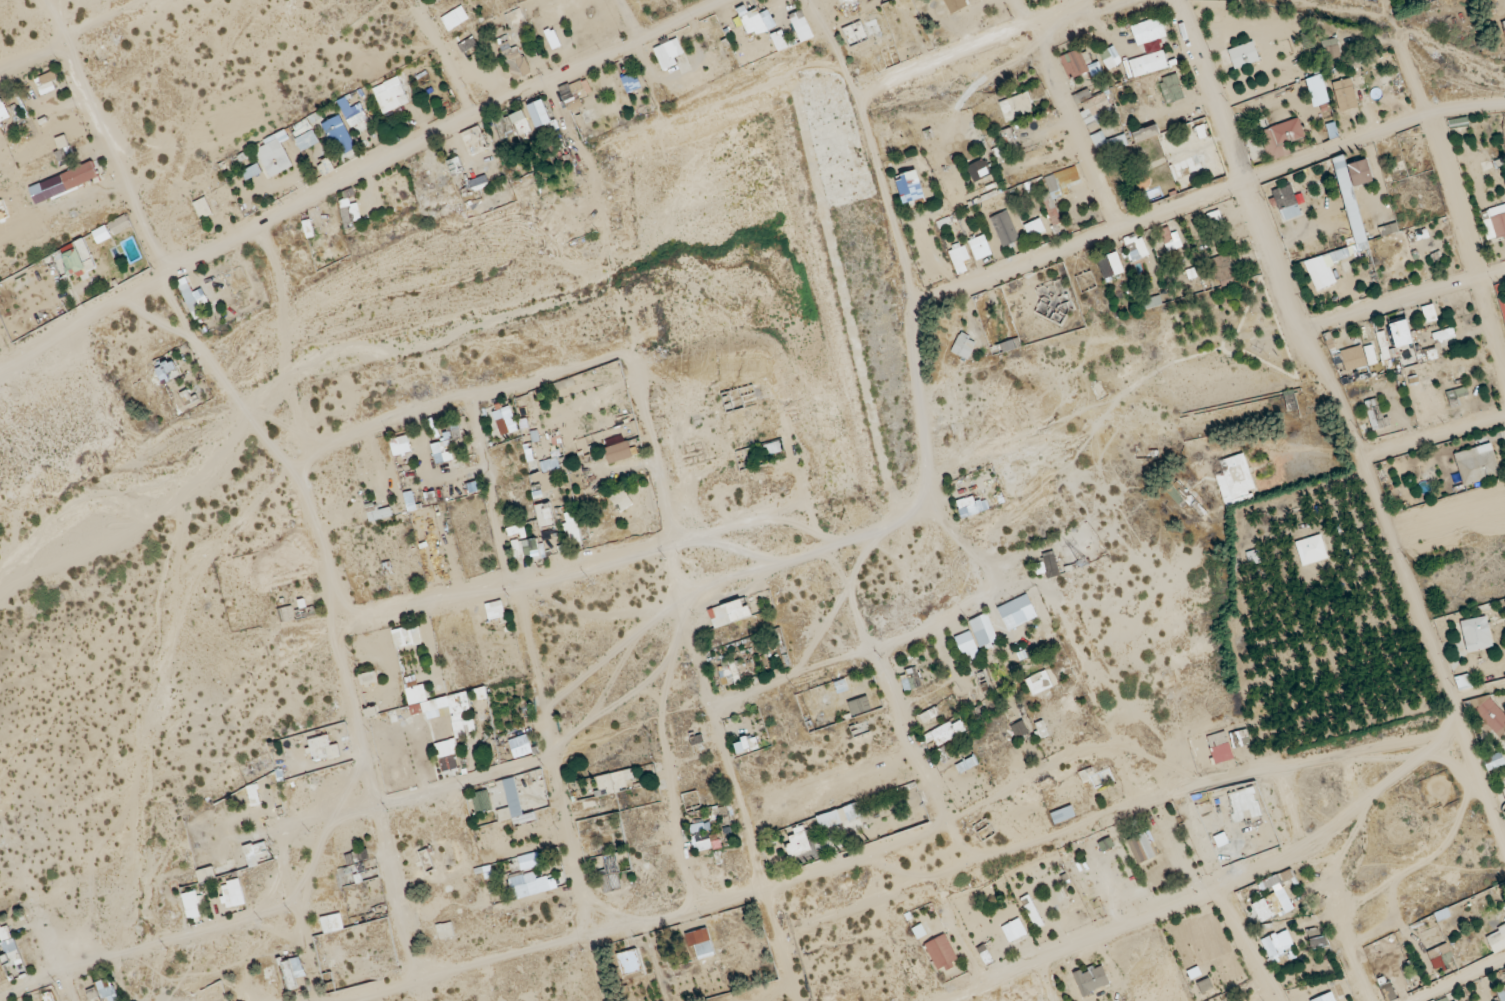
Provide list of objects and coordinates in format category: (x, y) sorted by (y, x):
power tower: (1082, 562)

